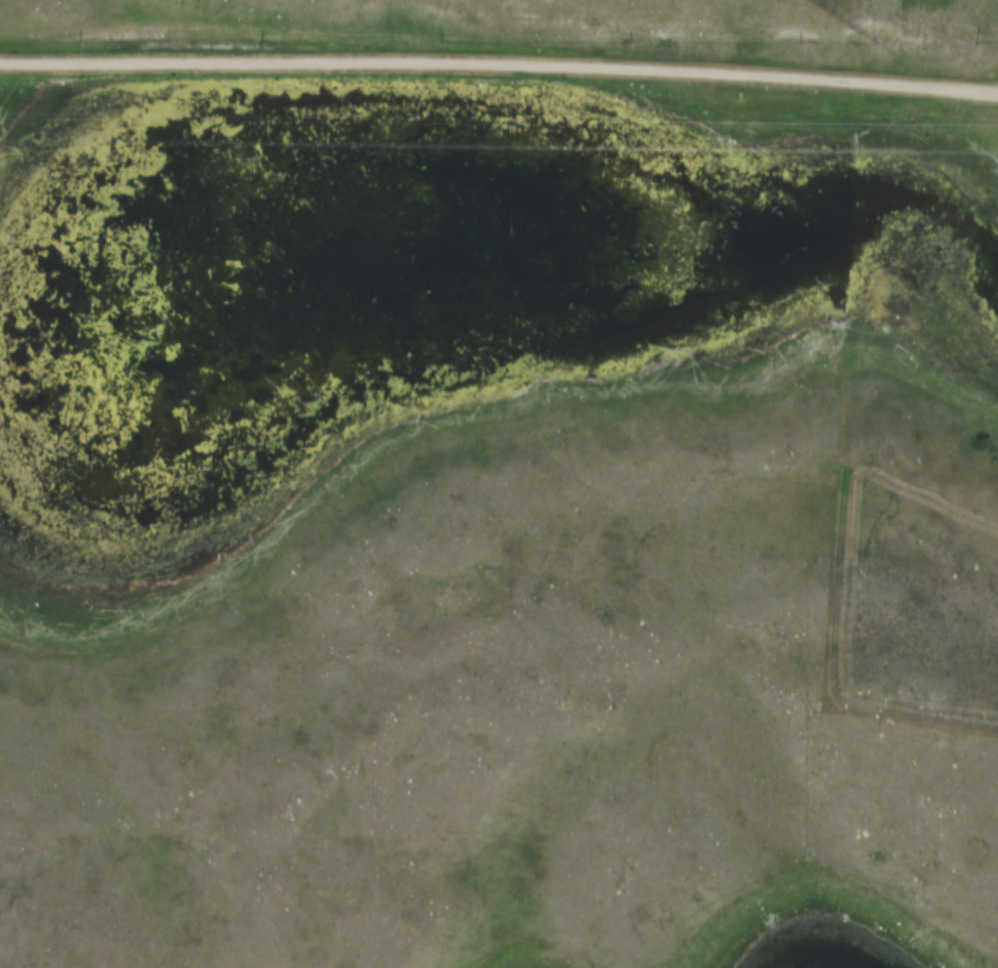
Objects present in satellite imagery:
road: (499, 67)

